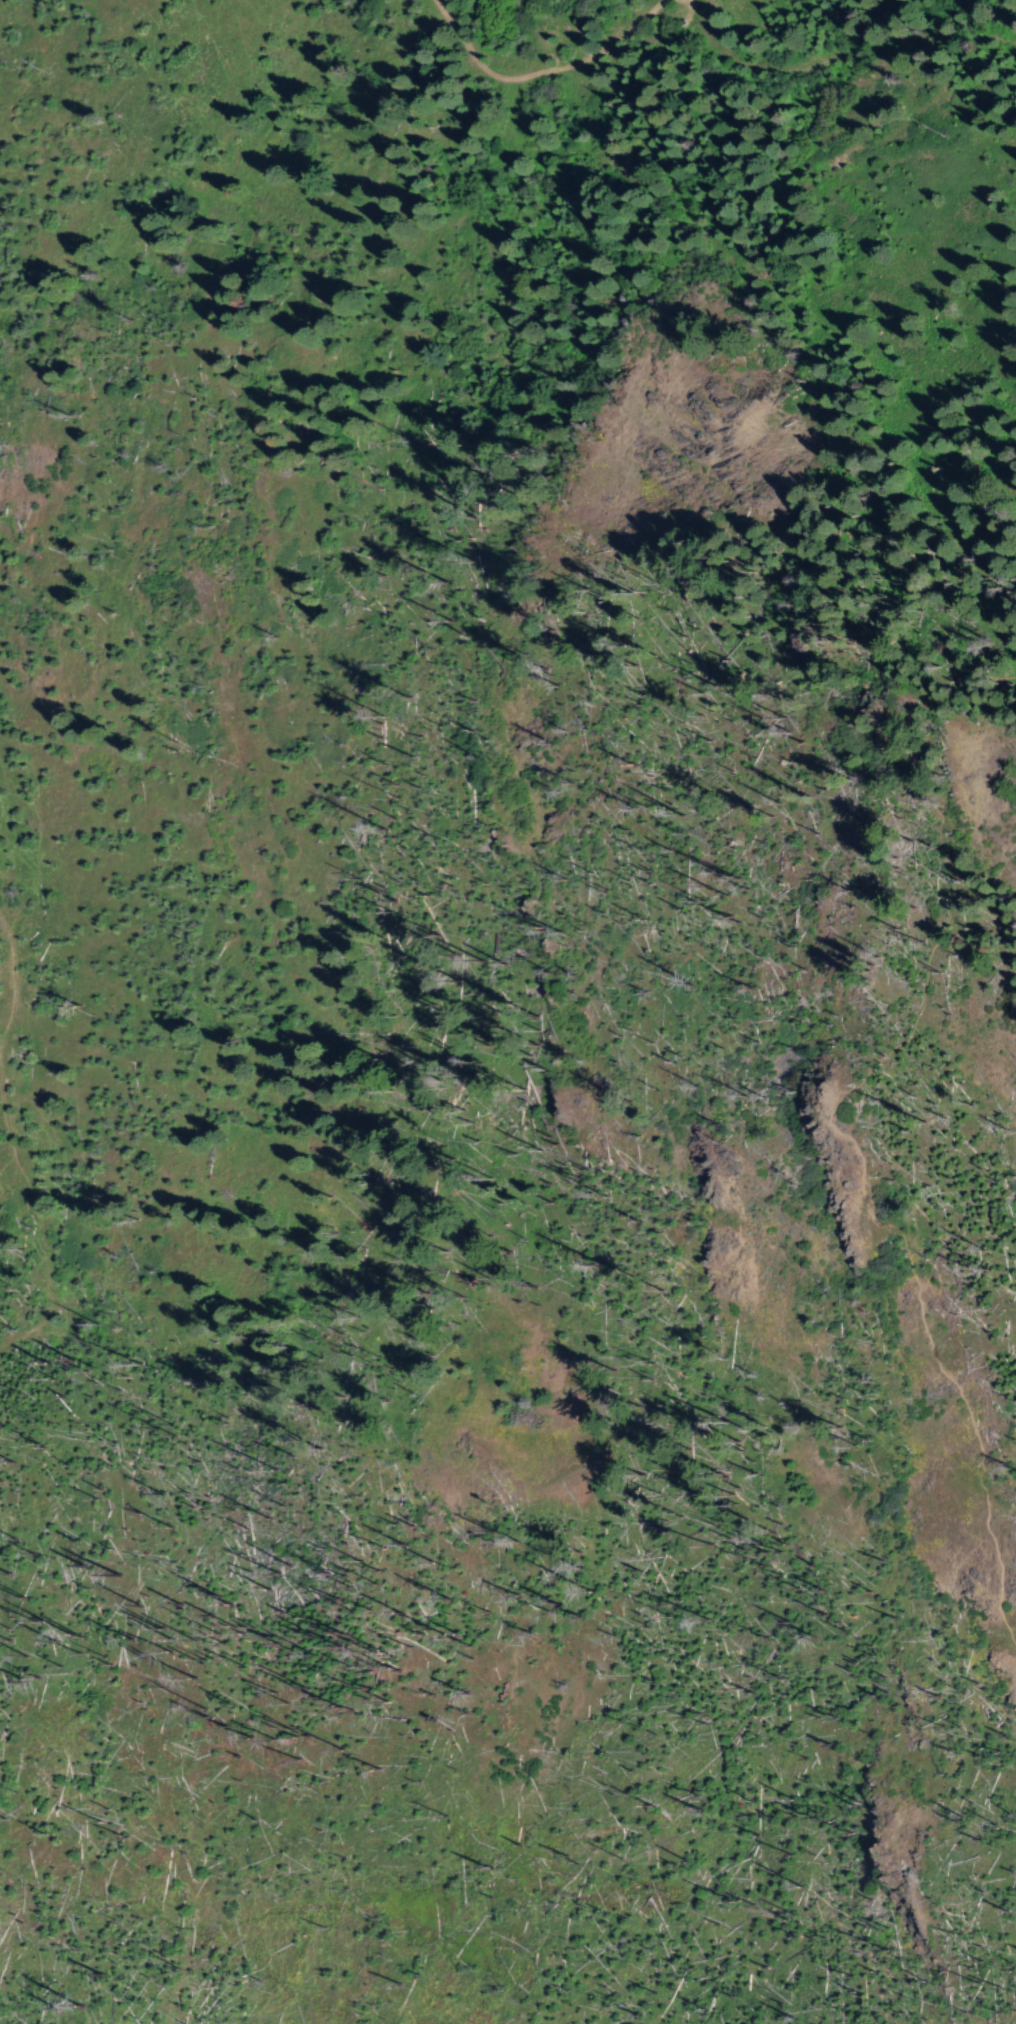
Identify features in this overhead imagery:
road: (842, 1124)
road: (1011, 2016)

